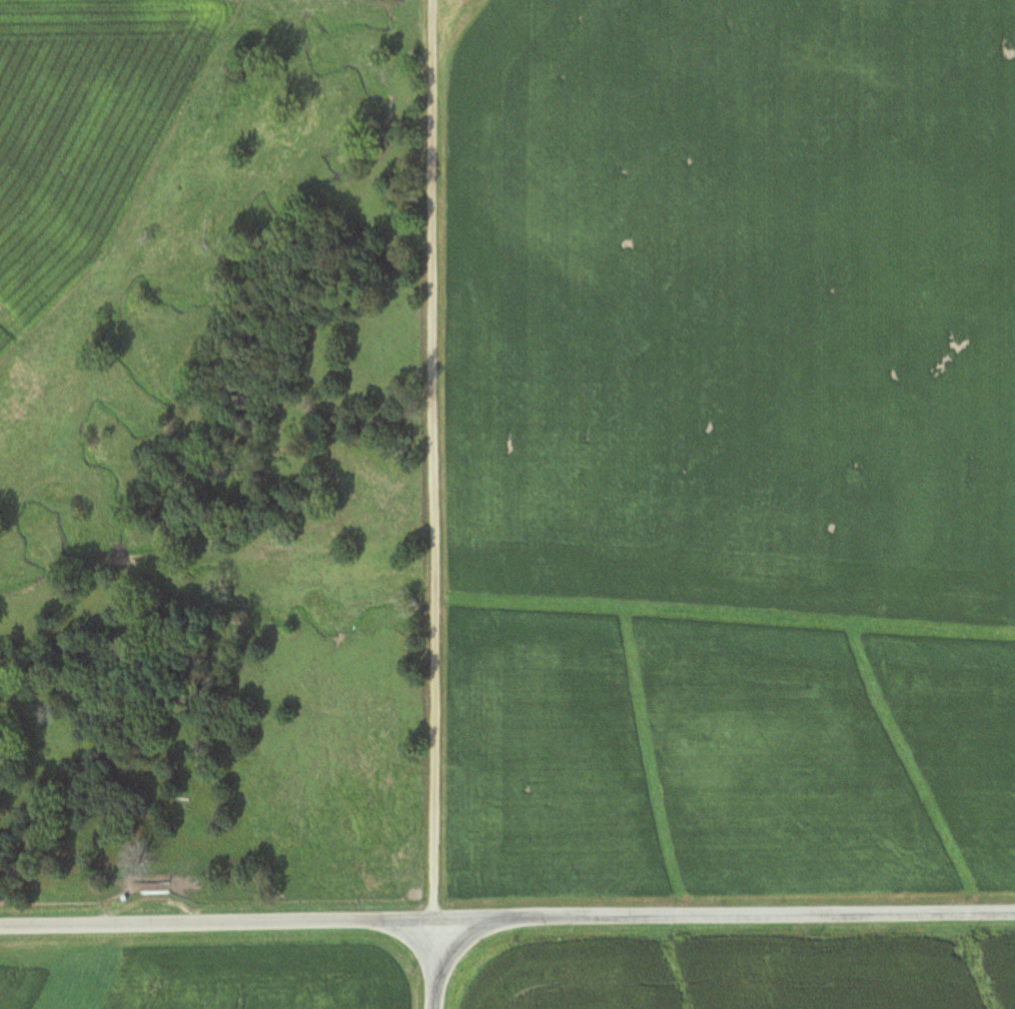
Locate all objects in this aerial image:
road: (507, 920)
road: (435, 965)

